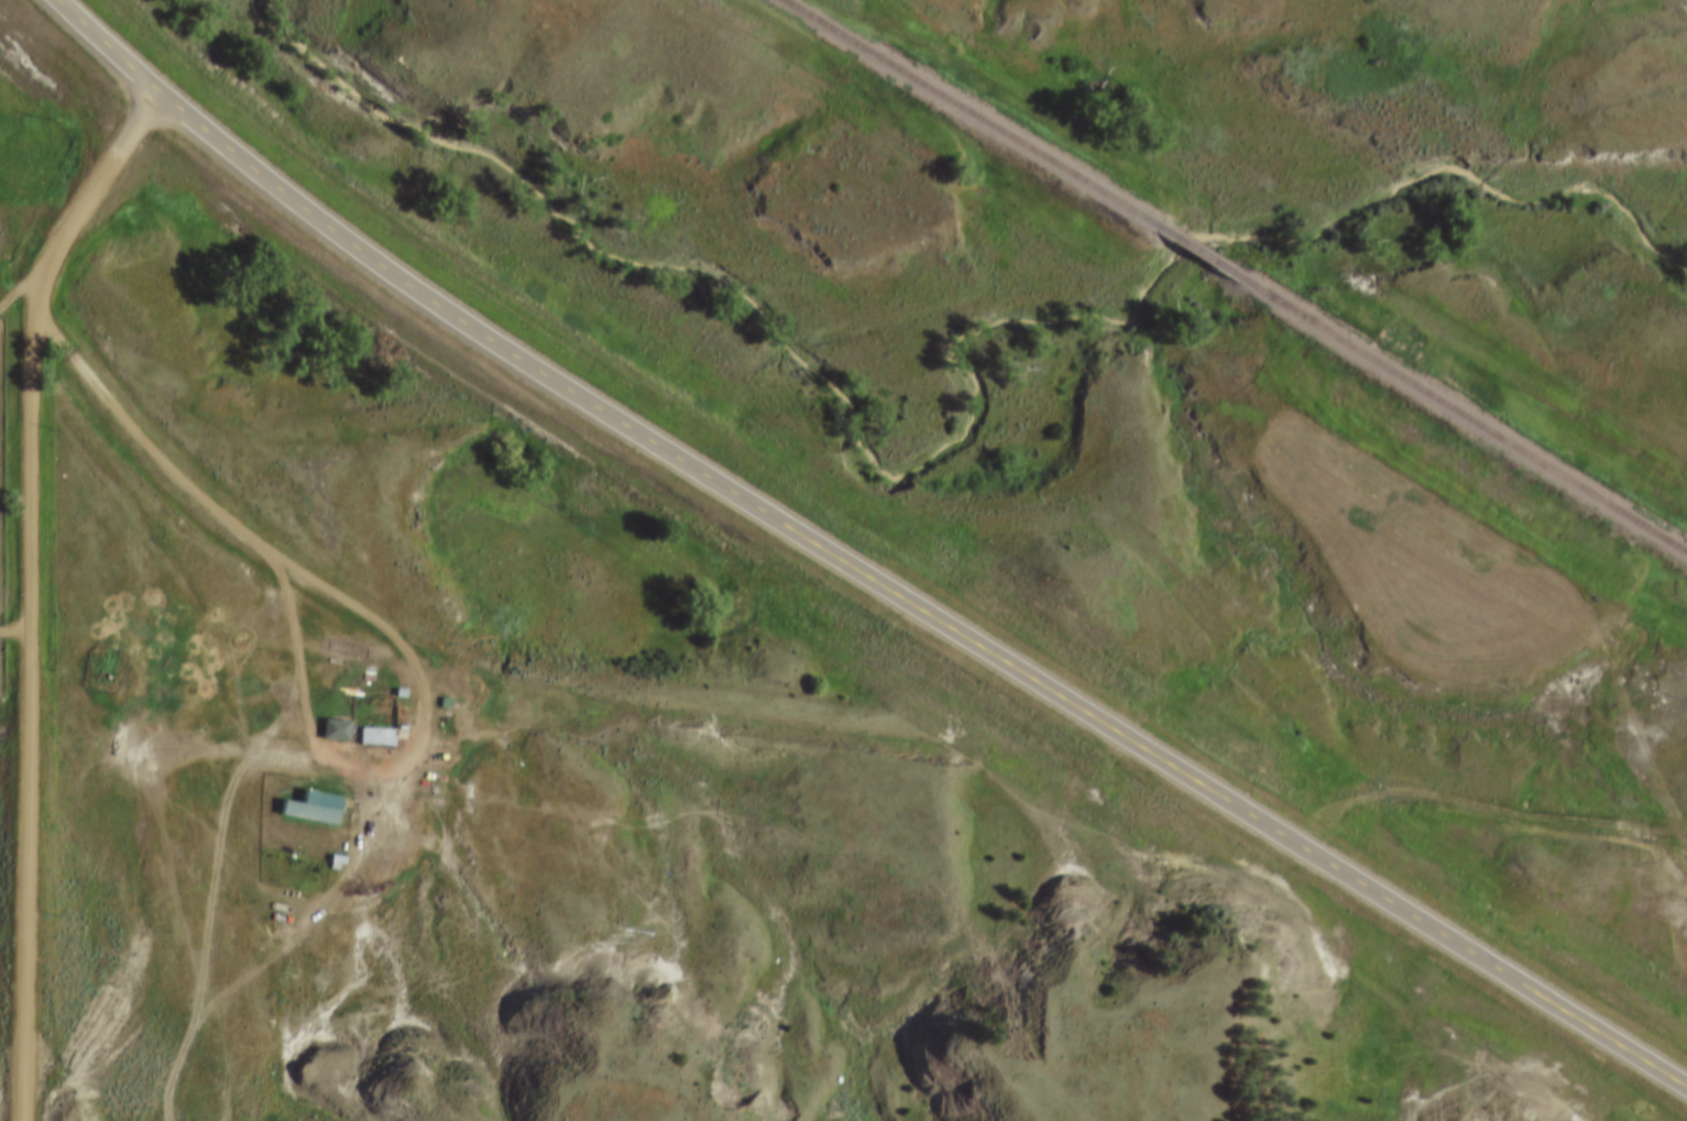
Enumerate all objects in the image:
railway: (978, 118)
railway: (1208, 259)
road: (24, 285)
railway: (1467, 417)
road: (858, 565)
road: (31, 587)
road: (362, 609)
road: (15, 627)
building: (393, 678)
building: (437, 688)
building: (329, 714)
building: (376, 719)
building: (338, 730)
building: (379, 737)
building: (309, 791)
road: (1487, 807)
building: (310, 812)
building: (335, 843)
road: (217, 900)

